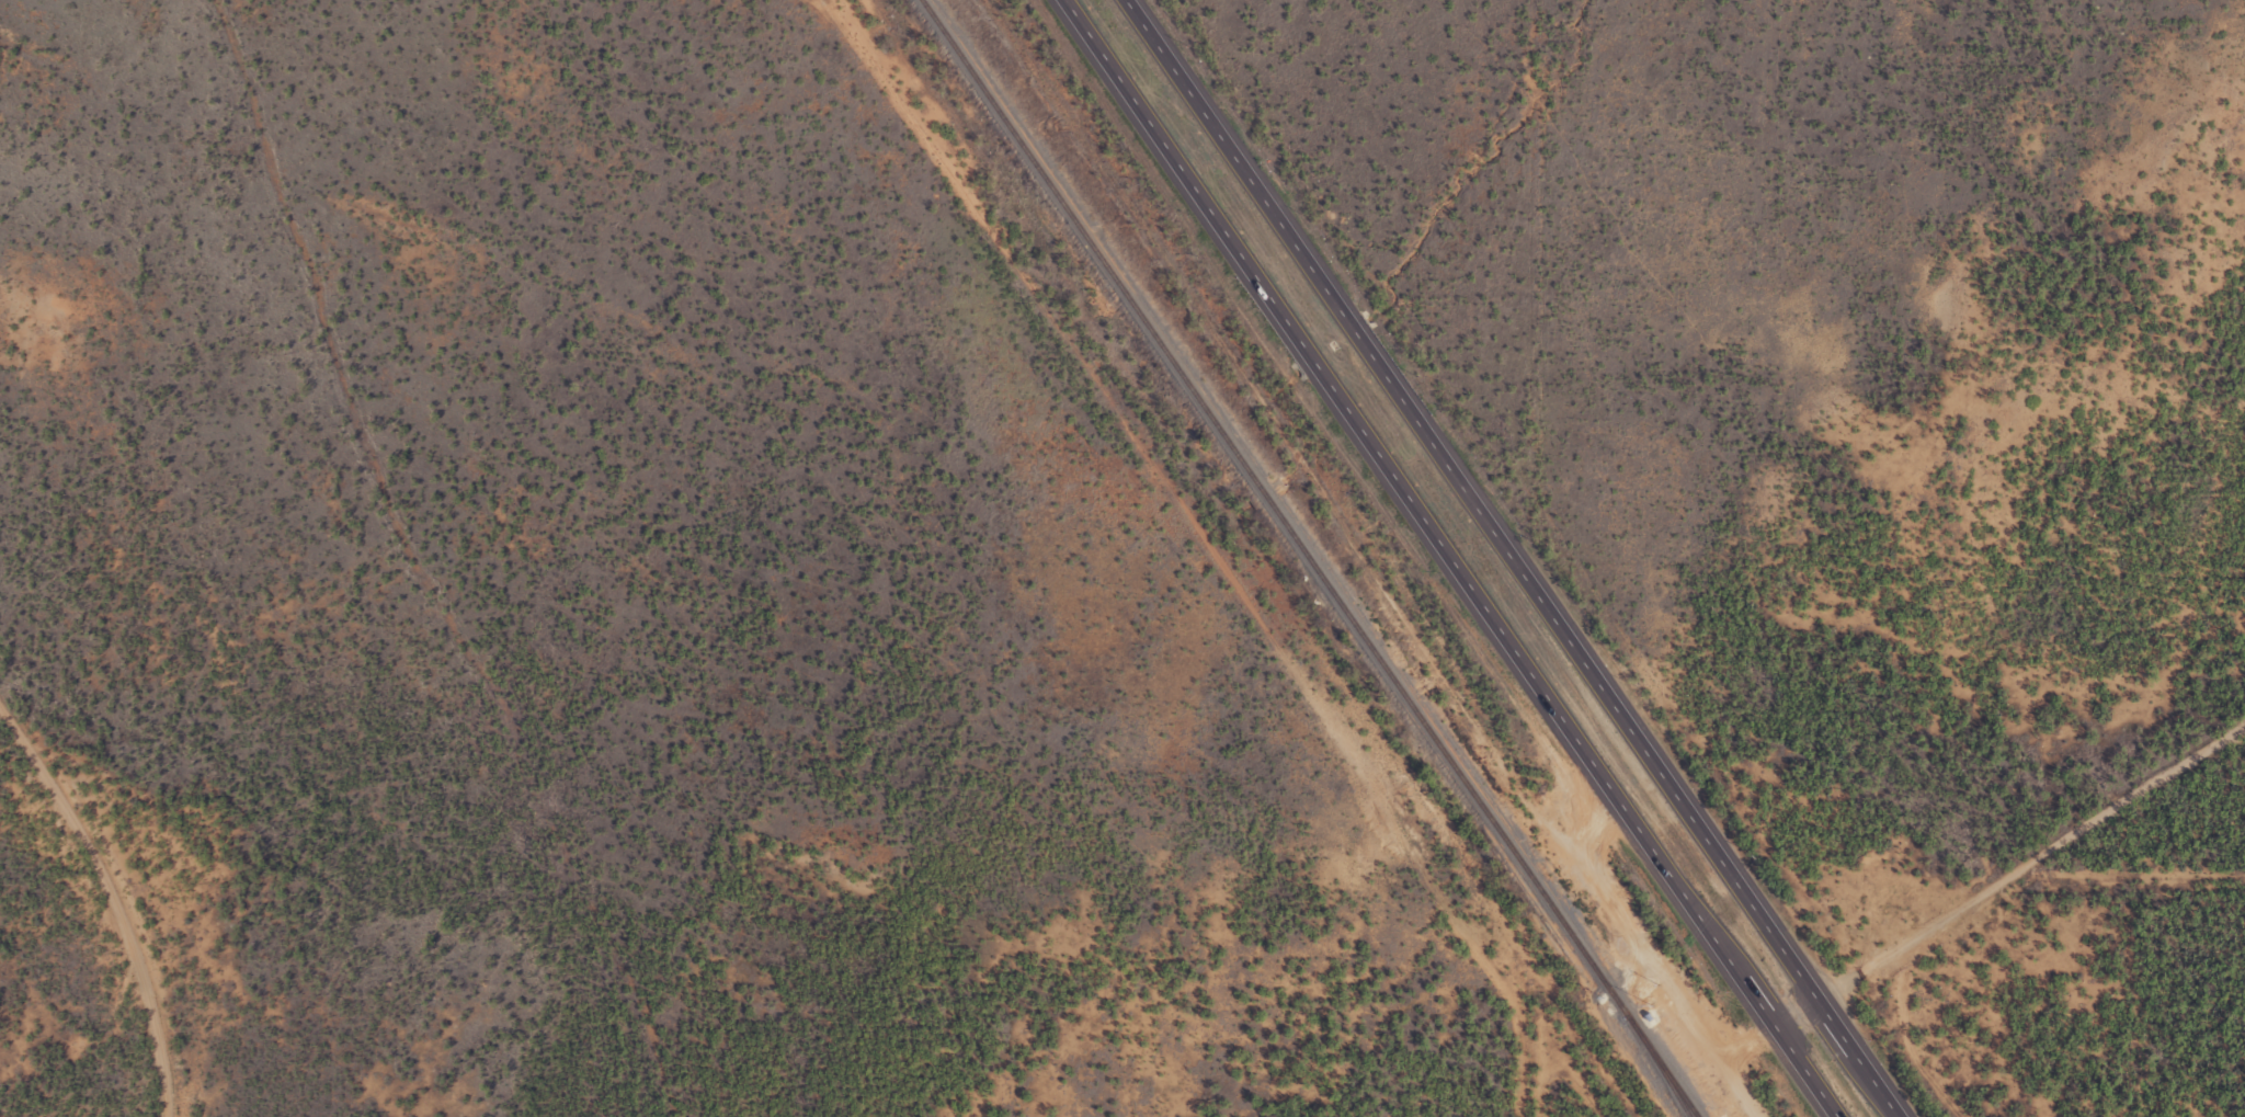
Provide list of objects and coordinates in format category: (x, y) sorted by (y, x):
road: (1452, 557)
railway: (1313, 558)
road: (1515, 558)
road: (2007, 869)
road: (116, 901)
railway: (1664, 1072)

